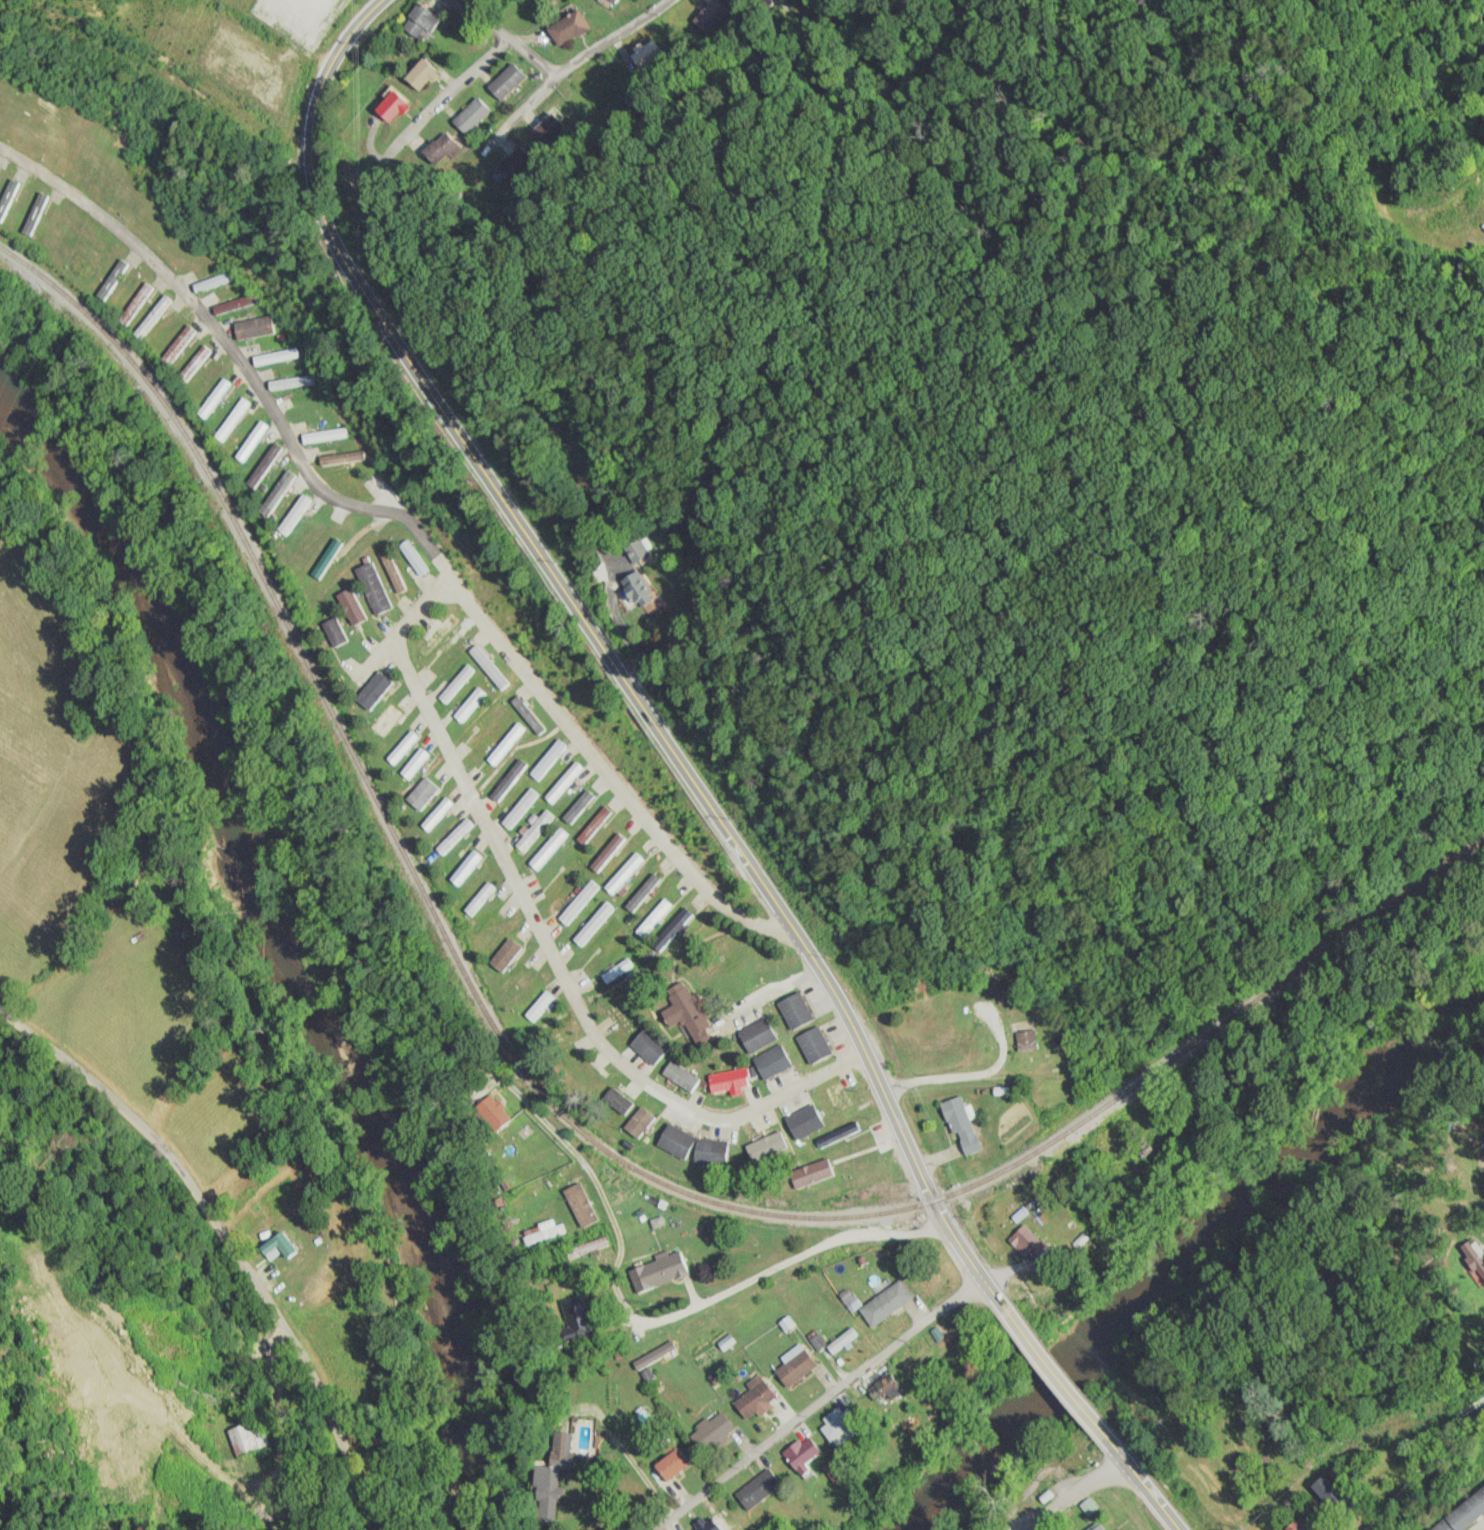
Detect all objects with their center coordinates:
building: (718, 11)
building: (421, 22)
building: (569, 28)
road: (508, 39)
building: (652, 55)
road: (577, 63)
building: (421, 76)
building: (507, 82)
road: (453, 93)
building: (392, 108)
building: (472, 116)
building: (550, 130)
building: (445, 146)
building: (513, 166)
building: (8, 198)
building: (35, 215)
building: (112, 280)
building: (215, 282)
building: (135, 305)
building: (235, 305)
building: (151, 318)
building: (254, 328)
building: (177, 347)
building: (276, 357)
building: (194, 364)
building: (292, 383)
building: (214, 400)
building: (234, 417)
building: (324, 436)
building: (251, 442)
building: (342, 458)
building: (263, 466)
building: (276, 494)
building: (293, 515)
building: (638, 550)
building: (413, 557)
building: (393, 571)
building: (635, 586)
building: (374, 587)
building: (352, 605)
building: (334, 631)
road: (608, 655)
building: (488, 666)
building: (456, 683)
building: (372, 689)
building: (470, 705)
building: (528, 714)
building: (384, 719)
road: (435, 726)
building: (506, 744)
building: (402, 747)
building: (548, 759)
building: (414, 764)
building: (509, 781)
building: (564, 782)
building: (421, 793)
building: (521, 809)
building: (437, 815)
building: (534, 830)
building: (454, 837)
building: (548, 849)
building: (608, 853)
building: (465, 868)
building: (624, 874)
building: (643, 893)
building: (479, 899)
building: (579, 903)
building: (594, 924)
building: (673, 931)
river: (283, 940)
building: (609, 949)
building: (504, 955)
building: (618, 971)
building: (1003, 992)
building: (540, 1006)
building: (795, 1010)
building: (686, 1013)
building: (757, 1035)
building: (1026, 1042)
building: (814, 1044)
building: (649, 1045)
building: (772, 1062)
building: (680, 1076)
building: (731, 1080)
building: (838, 1096)
building: (617, 1100)
building: (492, 1112)
railway: (569, 1118)
building: (804, 1121)
building: (639, 1122)
building: (960, 1125)
building: (838, 1133)
building: (675, 1140)
building: (770, 1142)
building: (709, 1151)
building: (532, 1165)
building: (810, 1173)
building: (528, 1194)
building: (581, 1205)
building: (541, 1233)
road: (225, 1240)
building: (1024, 1241)
building: (277, 1247)
building: (588, 1248)
river: (1187, 1257)
building: (658, 1271)
building: (886, 1303)
road: (673, 1312)
building: (575, 1320)
building: (655, 1354)
building: (795, 1365)
road: (1053, 1372)
building: (883, 1390)
building: (755, 1398)
road: (826, 1400)
building: (836, 1423)
building: (715, 1428)
building: (251, 1437)
building: (801, 1454)
building: (671, 1464)
building: (554, 1465)
road: (1141, 1482)
building: (757, 1489)
building: (1329, 1494)
road: (1077, 1497)
building: (1462, 1514)
building: (1302, 1524)
building: (705, 1525)
building: (1098, 1527)

